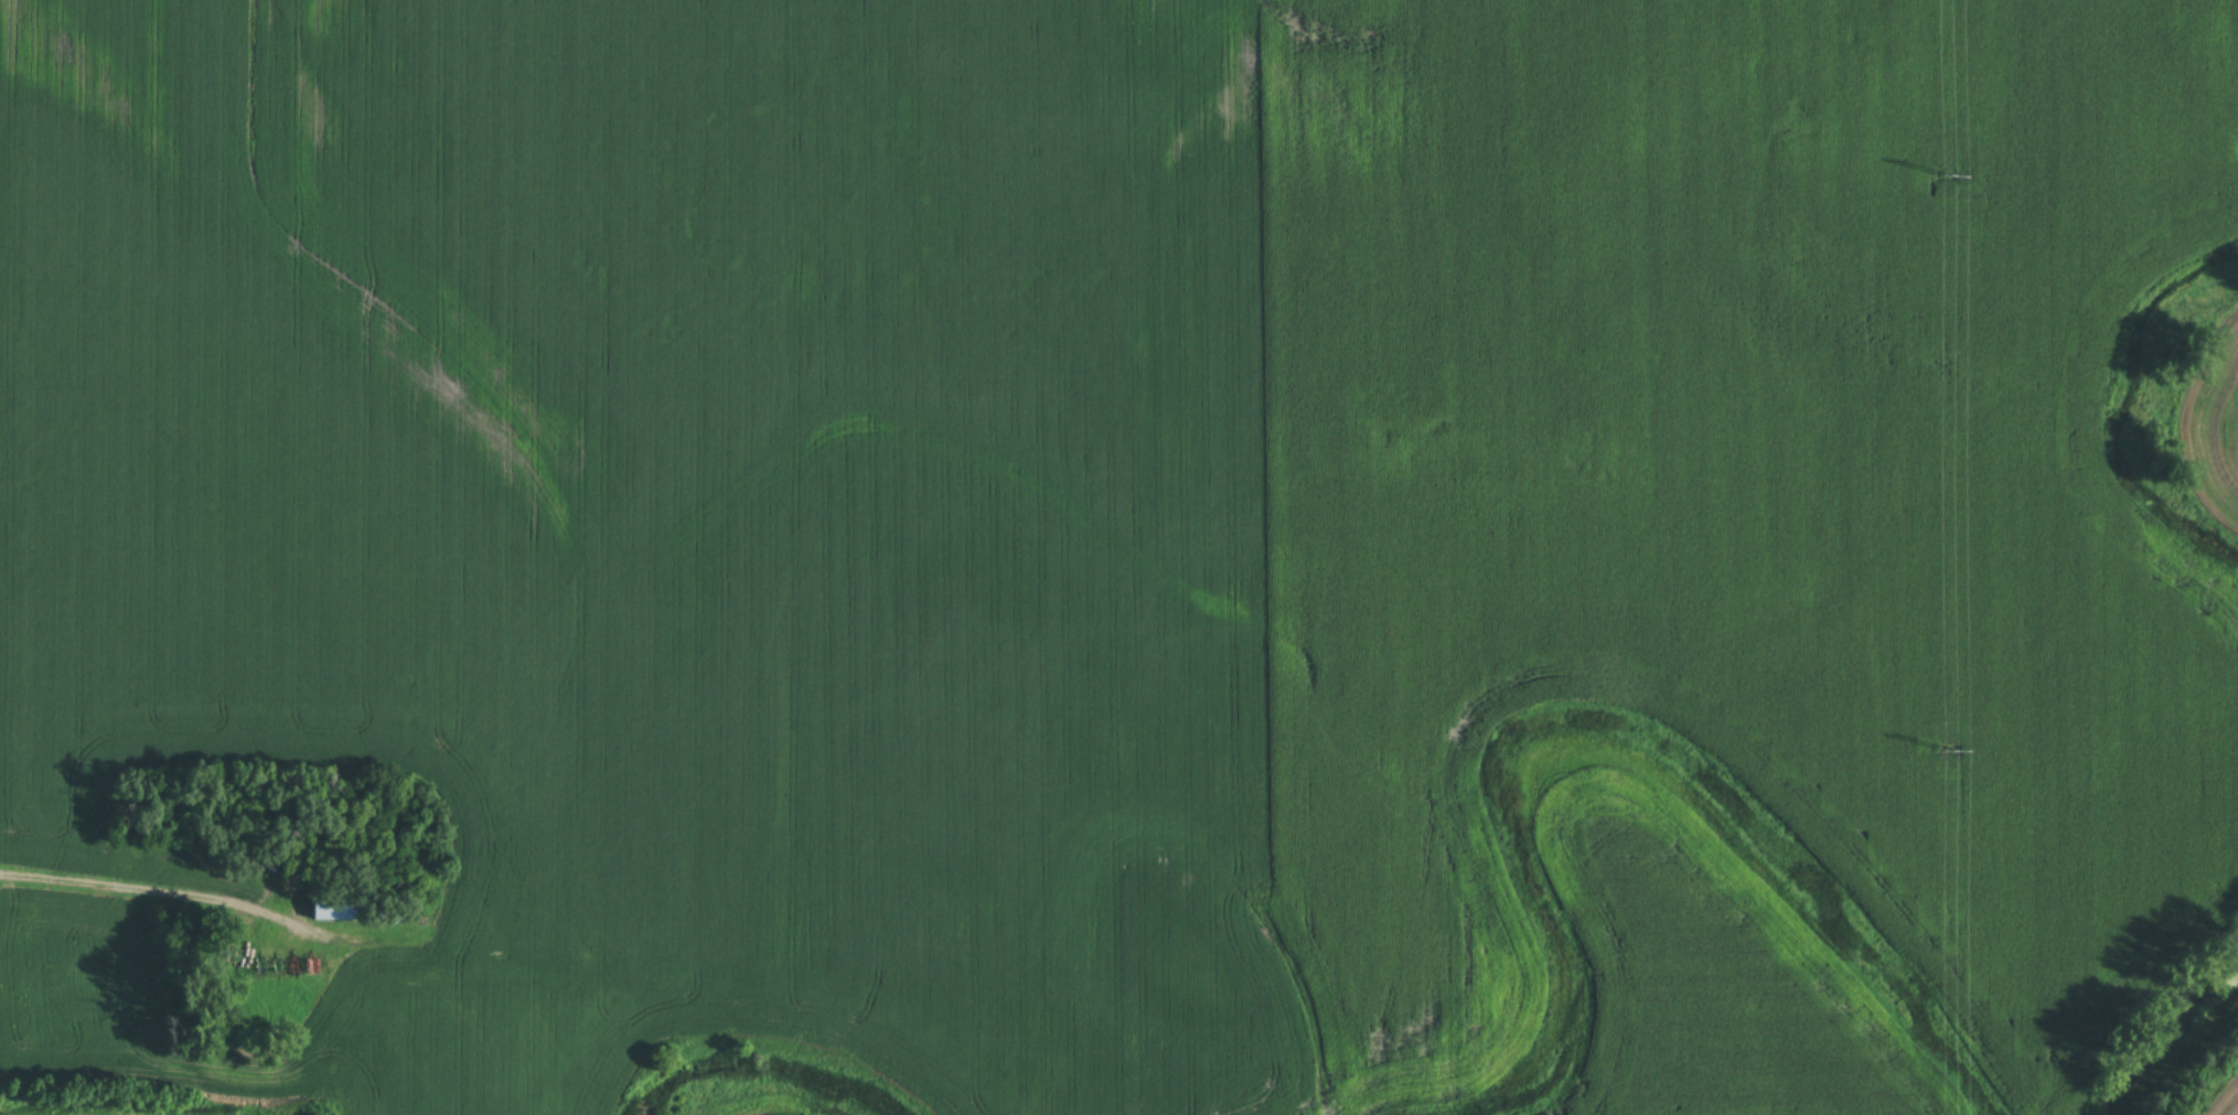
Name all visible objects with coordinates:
power tower: (1946, 171)
power tower: (1950, 748)
building: (342, 905)
river: (2171, 1037)
river: (657, 1093)

